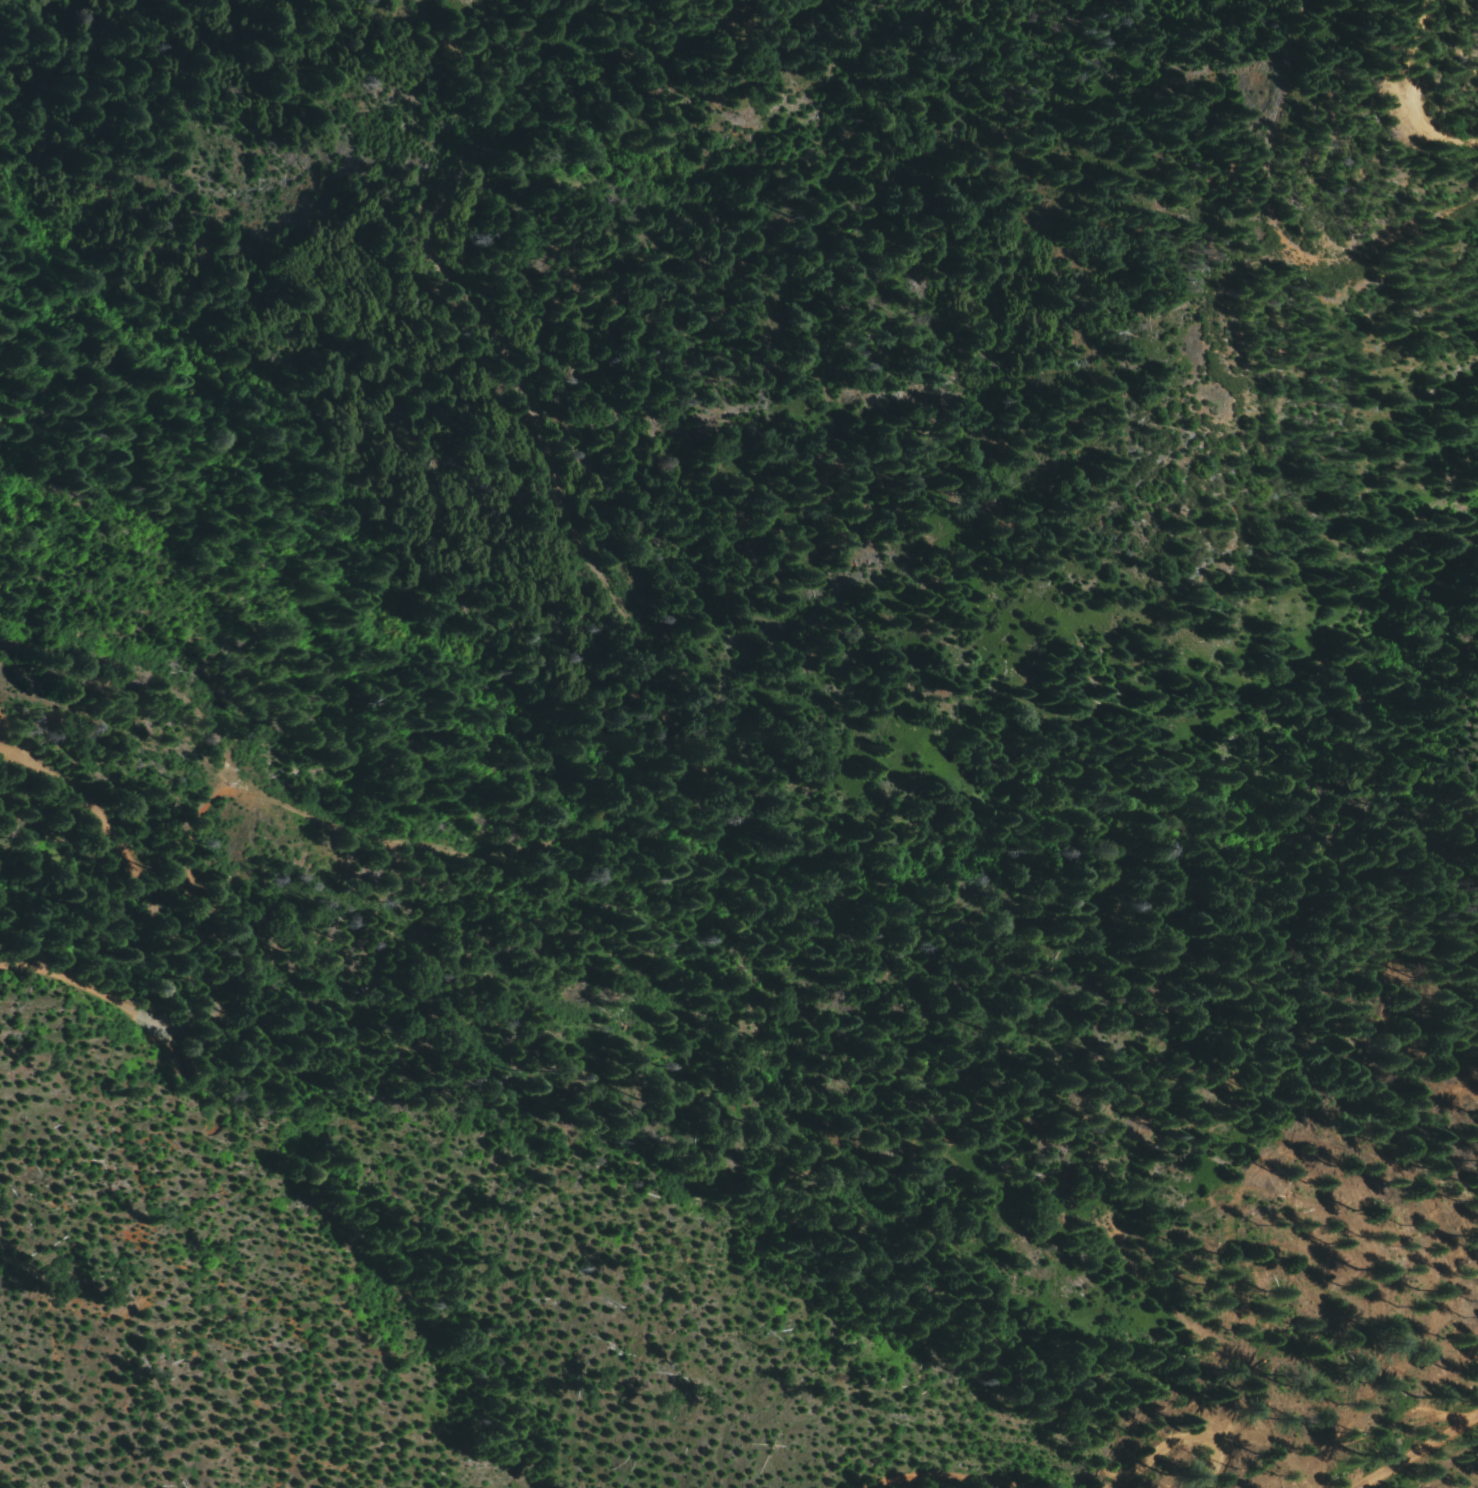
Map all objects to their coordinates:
road: (1411, 95)
road: (423, 868)
road: (1415, 1446)
road: (1059, 1484)

